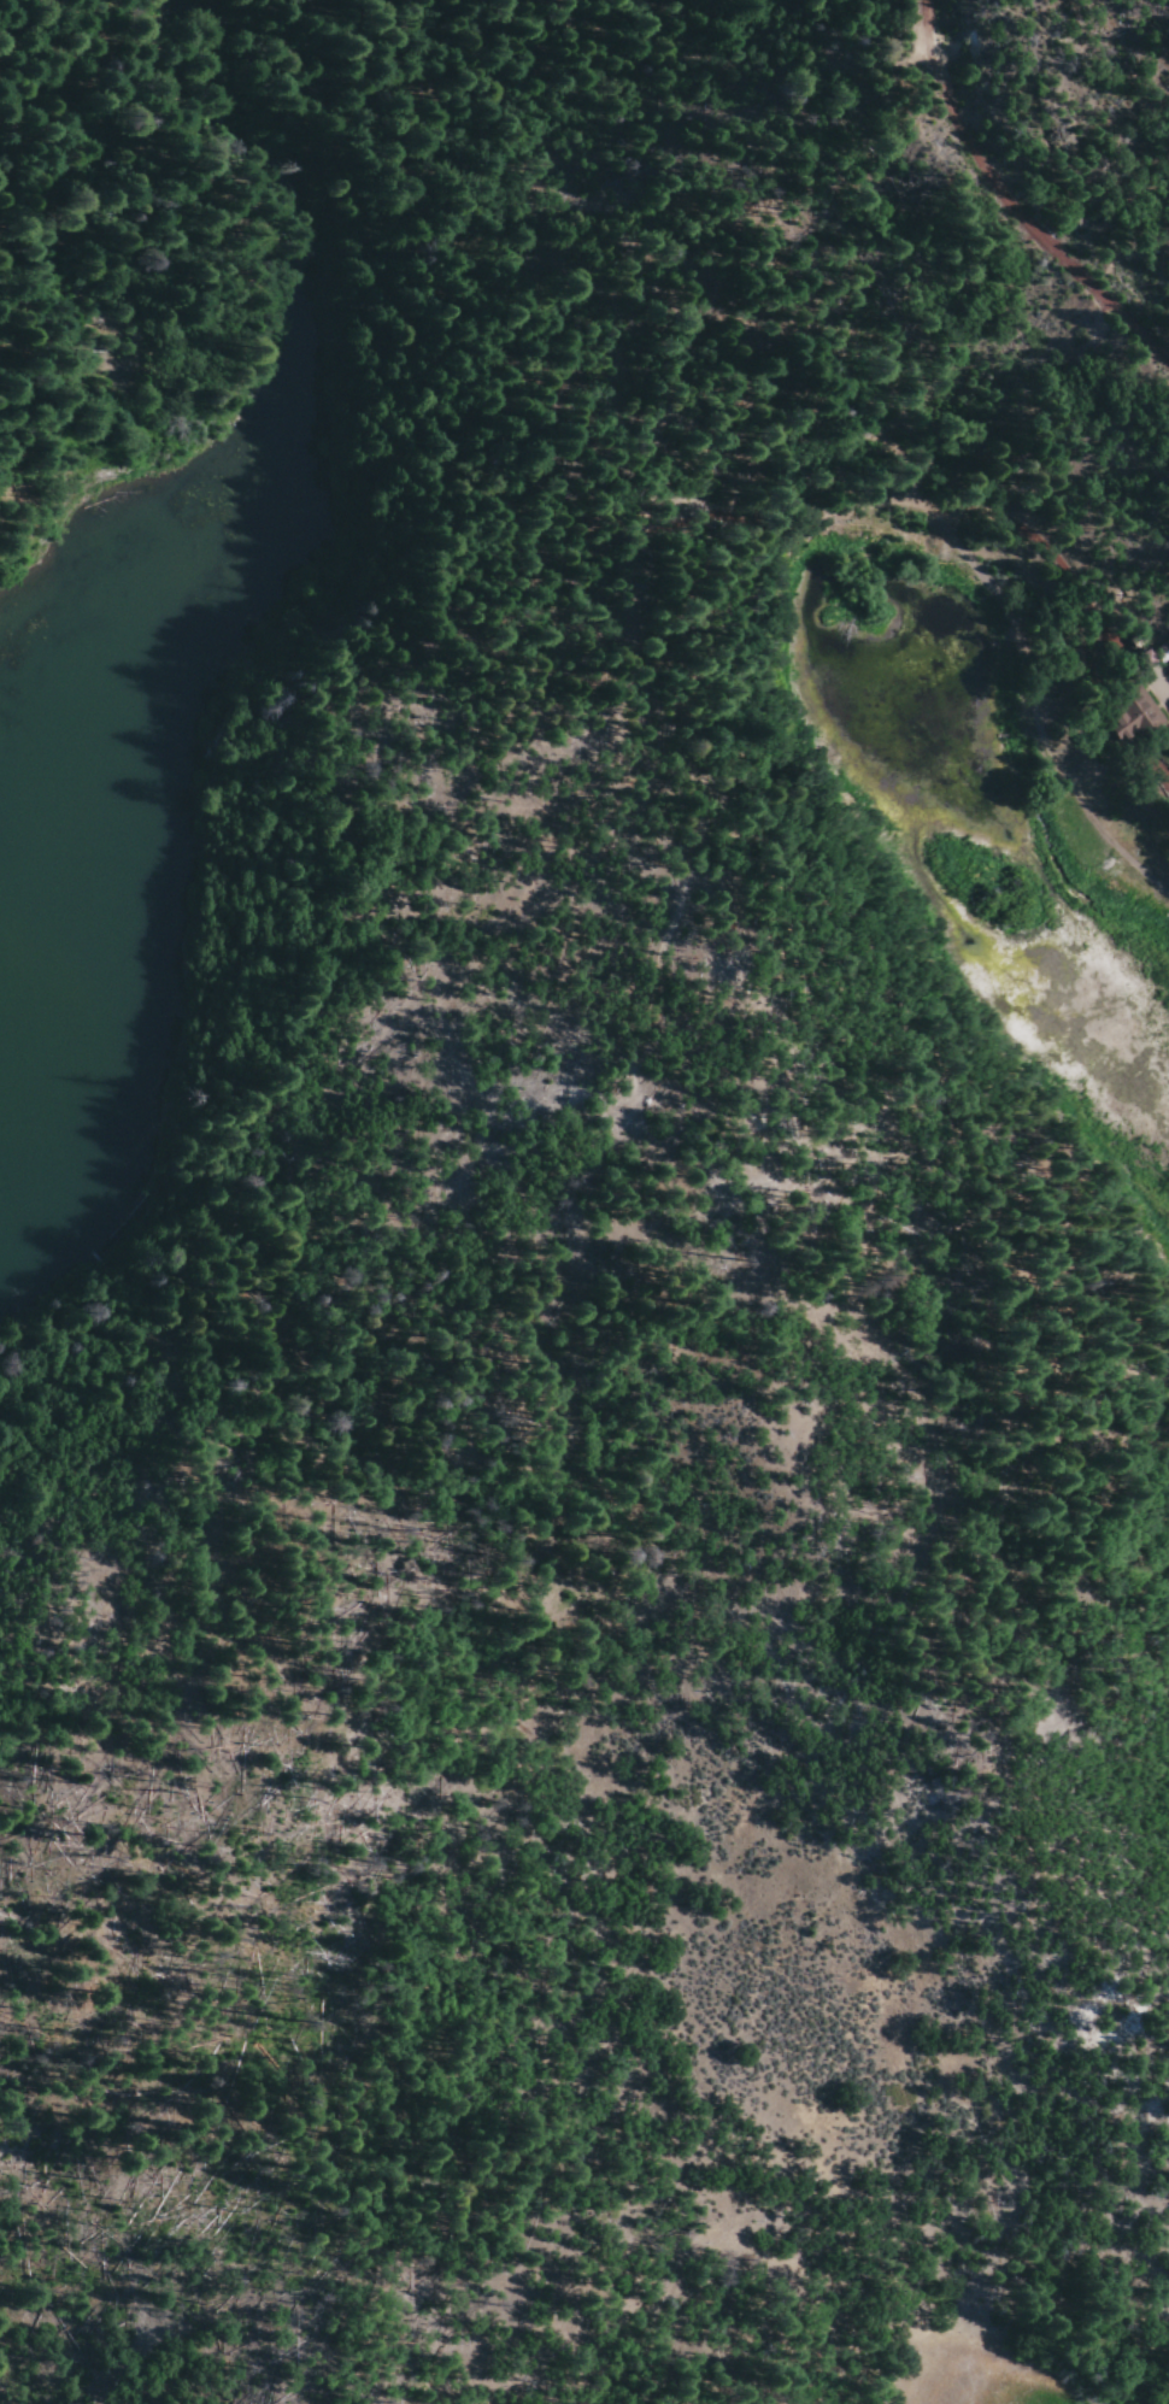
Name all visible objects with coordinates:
building: (1163, 653)
building: (1151, 671)
building: (1130, 717)

